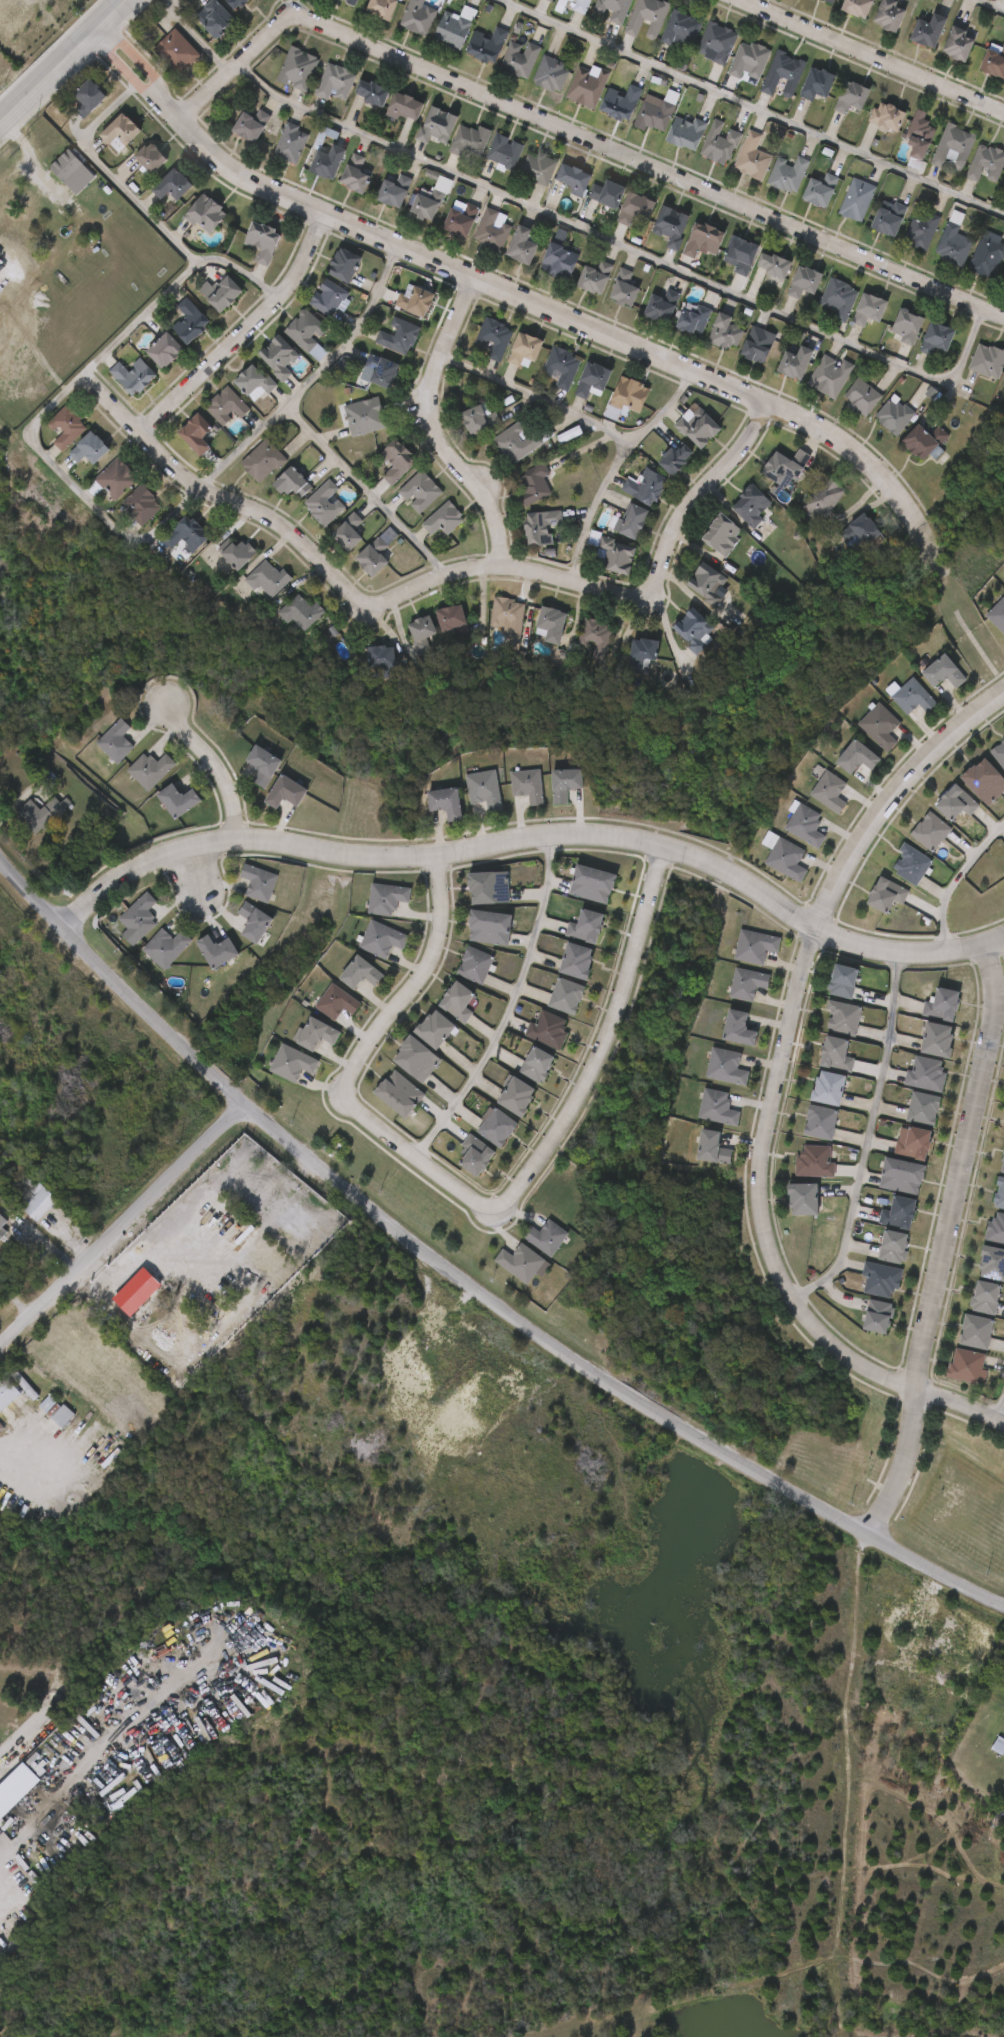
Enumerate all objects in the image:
building: (551, 0)
building: (349, 1)
building: (829, 1)
building: (231, 3)
road: (991, 5)
building: (580, 6)
building: (379, 8)
building: (856, 8)
building: (613, 9)
building: (887, 15)
building: (214, 18)
building: (416, 18)
building: (646, 19)
building: (450, 30)
building: (680, 30)
building: (927, 31)
road: (197, 39)
building: (716, 42)
building: (958, 43)
building: (485, 46)
building: (175, 51)
road: (870, 56)
building: (519, 60)
building: (748, 60)
building: (993, 61)
road: (64, 63)
building: (160, 66)
building: (296, 69)
building: (782, 74)
building: (550, 75)
building: (333, 83)
building: (816, 83)
building: (587, 86)
building: (368, 94)
building: (849, 97)
building: (91, 98)
building: (619, 101)
building: (402, 107)
road: (751, 108)
building: (71, 114)
building: (653, 114)
building: (885, 117)
building: (249, 125)
building: (434, 126)
building: (123, 132)
building: (684, 133)
building: (918, 135)
road: (579, 136)
building: (468, 141)
building: (289, 143)
building: (718, 144)
building: (952, 147)
building: (102, 148)
building: (502, 152)
building: (154, 158)
building: (751, 158)
building: (326, 160)
building: (985, 163)
building: (535, 168)
building: (133, 173)
building: (786, 173)
building: (352, 174)
building: (571, 180)
building: (48, 181)
building: (175, 185)
building: (393, 190)
building: (818, 190)
building: (603, 194)
building: (856, 200)
road: (142, 205)
building: (425, 205)
building: (635, 207)
building: (209, 214)
building: (889, 216)
building: (458, 219)
building: (669, 226)
building: (921, 230)
building: (489, 231)
building: (701, 240)
building: (266, 241)
road: (623, 243)
building: (952, 245)
building: (519, 246)
building: (738, 255)
building: (987, 258)
building: (556, 261)
building: (345, 264)
building: (771, 265)
building: (802, 282)
building: (622, 288)
road: (500, 289)
building: (224, 294)
building: (328, 297)
building: (837, 298)
building: (419, 301)
building: (658, 307)
building: (867, 309)
road: (141, 313)
building: (691, 318)
building: (192, 321)
building: (904, 326)
building: (305, 329)
road: (244, 333)
building: (724, 333)
building: (400, 335)
building: (492, 337)
building: (934, 338)
building: (756, 344)
building: (522, 349)
building: (168, 351)
building: (279, 355)
building: (795, 355)
building: (986, 360)
building: (560, 366)
building: (384, 371)
building: (134, 375)
road: (311, 375)
building: (828, 375)
building: (589, 378)
building: (1002, 379)
building: (254, 381)
building: (116, 392)
building: (624, 396)
road: (539, 397)
building: (859, 397)
building: (227, 405)
building: (363, 415)
building: (892, 415)
building: (475, 418)
building: (67, 427)
road: (438, 427)
building: (696, 427)
building: (198, 434)
building: (921, 440)
building: (516, 441)
building: (48, 443)
building: (92, 449)
building: (672, 456)
building: (263, 461)
building: (395, 462)
building: (72, 465)
building: (778, 467)
road: (615, 468)
building: (117, 479)
building: (290, 483)
building: (532, 483)
building: (643, 486)
road: (81, 488)
road: (365, 489)
building: (419, 492)
building: (822, 497)
building: (324, 504)
building: (748, 504)
building: (141, 505)
building: (126, 507)
building: (443, 520)
building: (629, 520)
building: (539, 526)
building: (861, 528)
building: (347, 532)
building: (183, 534)
building: (719, 534)
building: (169, 551)
building: (236, 552)
building: (614, 554)
building: (372, 557)
building: (265, 579)
road: (433, 579)
building: (701, 581)
building: (296, 612)
building: (506, 615)
building: (998, 615)
building: (448, 617)
building: (548, 624)
building: (691, 629)
building: (422, 631)
building: (594, 636)
building: (640, 649)
building: (377, 656)
building: (943, 672)
building: (913, 697)
building: (881, 727)
building: (114, 741)
building: (999, 754)
building: (98, 757)
building: (857, 757)
building: (262, 764)
road: (219, 767)
building: (148, 769)
building: (985, 781)
building: (562, 784)
building: (527, 786)
building: (484, 790)
building: (287, 792)
building: (831, 792)
road: (892, 797)
building: (179, 799)
building: (445, 803)
building: (957, 804)
building: (33, 815)
building: (806, 826)
building: (22, 828)
building: (932, 833)
road: (533, 840)
building: (788, 860)
building: (912, 865)
road: (200, 873)
road: (954, 879)
building: (259, 883)
building: (592, 884)
building: (487, 888)
building: (887, 896)
building: (386, 898)
building: (138, 917)
building: (256, 921)
building: (586, 926)
building: (487, 928)
building: (121, 932)
building: (382, 938)
building: (164, 947)
building: (755, 947)
building: (218, 951)
building: (576, 961)
building: (473, 966)
building: (362, 973)
building: (843, 982)
building: (748, 984)
building: (566, 996)
building: (458, 1001)
building: (336, 1002)
road: (506, 1005)
building: (944, 1005)
building: (844, 1019)
building: (435, 1029)
building: (549, 1029)
building: (738, 1029)
building: (318, 1033)
road: (599, 1041)
building: (938, 1041)
building: (835, 1055)
road: (359, 1059)
building: (416, 1059)
building: (291, 1063)
building: (537, 1064)
building: (725, 1068)
building: (928, 1075)
building: (827, 1089)
building: (399, 1094)
building: (516, 1096)
building: (716, 1108)
building: (924, 1109)
building: (819, 1123)
road: (768, 1124)
building: (497, 1127)
road: (867, 1137)
building: (914, 1143)
building: (711, 1148)
building: (472, 1156)
building: (813, 1161)
building: (1002, 1166)
building: (901, 1177)
building: (37, 1198)
building: (801, 1199)
road: (188, 1206)
building: (898, 1213)
building: (5, 1220)
road: (124, 1225)
building: (996, 1228)
building: (544, 1237)
road: (948, 1242)
road: (47, 1243)
building: (892, 1247)
building: (518, 1263)
building: (991, 1264)
building: (880, 1281)
road: (464, 1284)
building: (138, 1292)
building: (984, 1298)
building: (121, 1308)
building: (876, 1317)
building: (975, 1333)
building: (965, 1366)
road: (895, 1380)
building: (7, 1394)
building: (58, 1410)
road: (999, 1410)
building: (30, 1418)
building: (44, 1430)
road: (15, 1433)
building: (93, 1434)
road: (874, 1660)
building: (1003, 1690)
building: (922, 1694)
road: (108, 1739)
building: (999, 1748)
building: (8, 1795)

